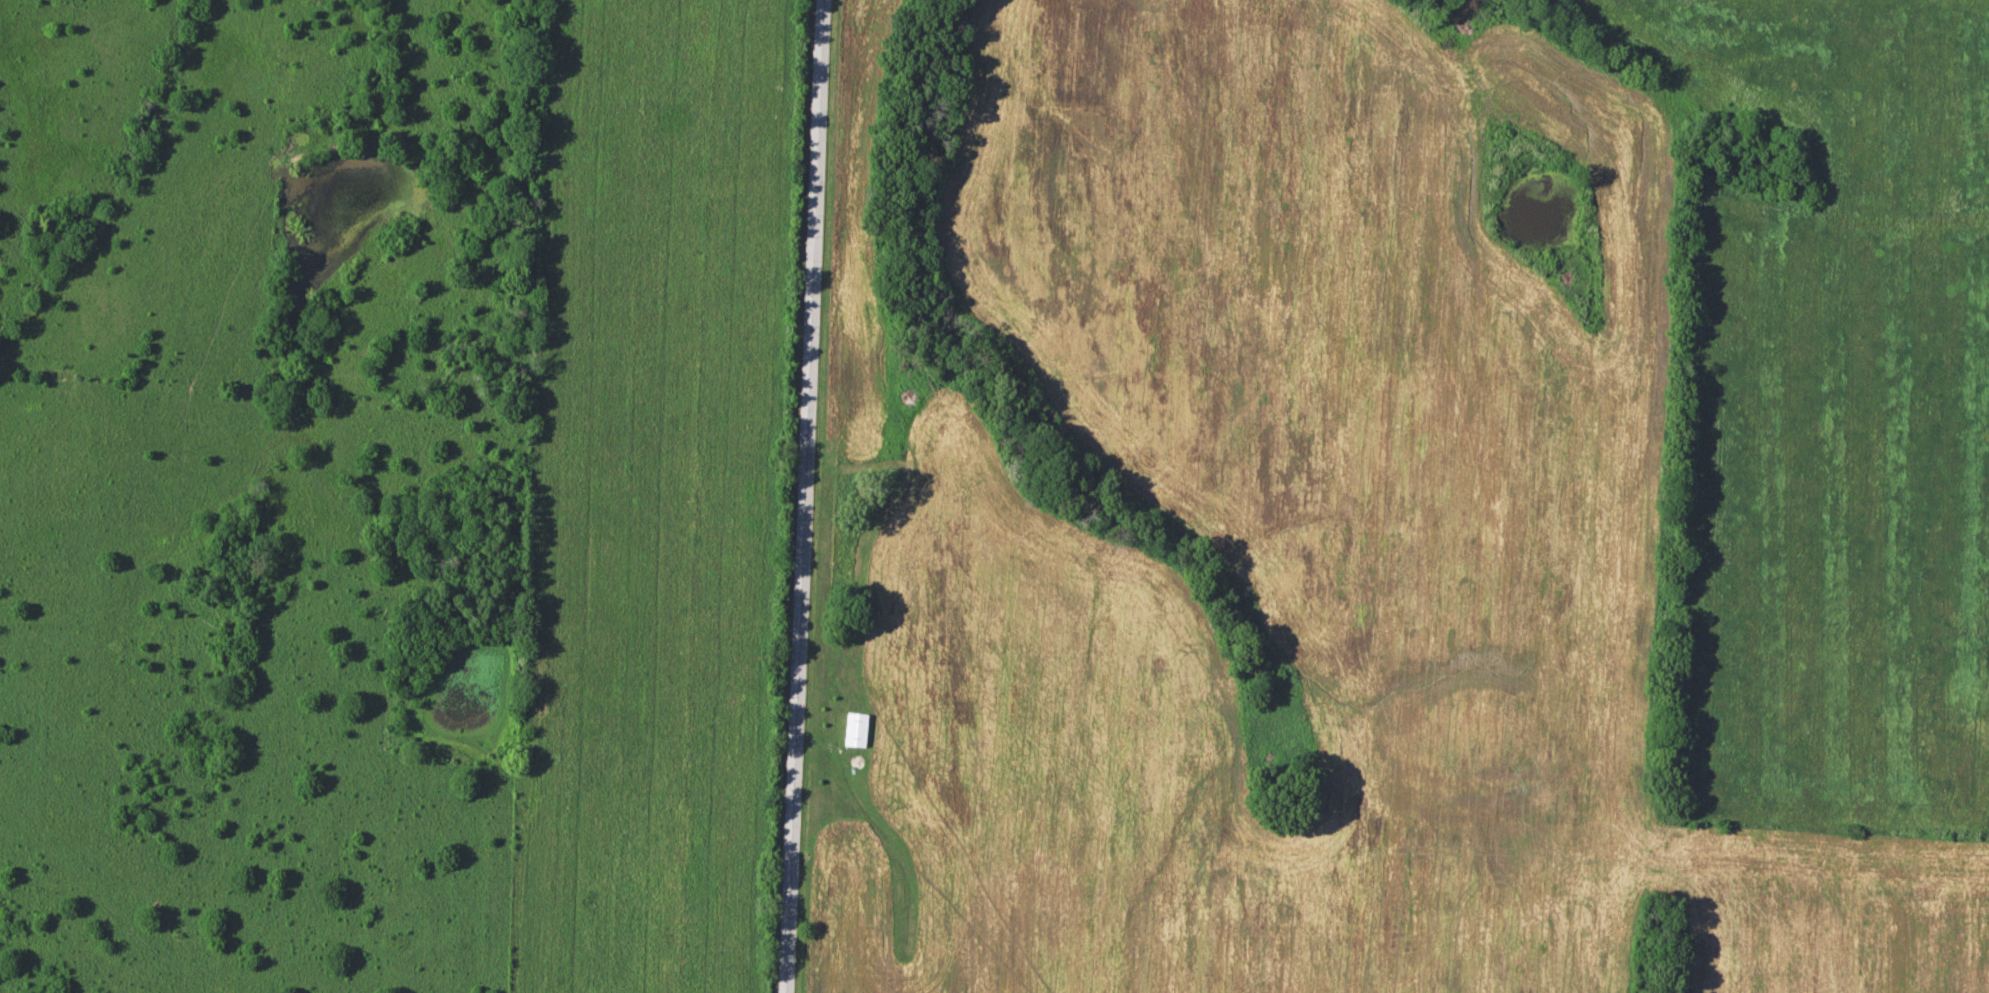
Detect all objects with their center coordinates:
crop: (659, 495)
road: (806, 496)
building: (853, 730)

